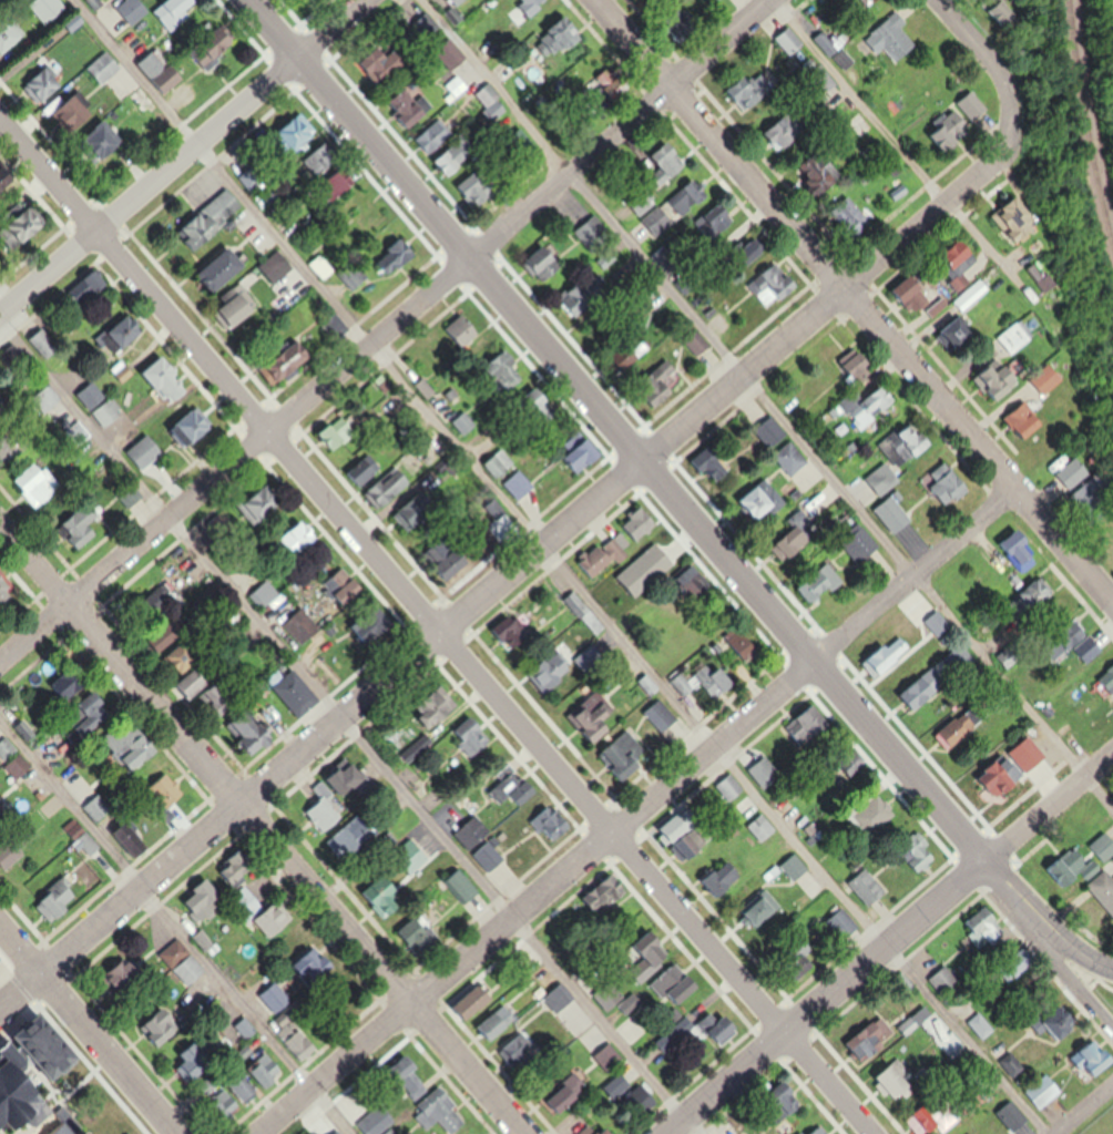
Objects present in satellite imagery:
building: (876, 0)
building: (456, 2)
building: (48, 8)
building: (134, 9)
building: (10, 34)
building: (895, 37)
road: (986, 40)
building: (828, 43)
road: (631, 44)
building: (160, 69)
building: (387, 69)
building: (45, 83)
building: (488, 95)
building: (412, 106)
building: (74, 114)
road: (358, 130)
building: (299, 131)
building: (787, 131)
railway: (1083, 131)
building: (950, 133)
road: (907, 149)
road: (184, 159)
building: (323, 159)
building: (672, 161)
building: (2, 173)
building: (815, 173)
building: (253, 177)
building: (339, 183)
building: (643, 200)
building: (680, 205)
building: (857, 217)
building: (212, 218)
building: (1022, 219)
building: (716, 221)
building: (593, 234)
building: (666, 256)
building: (544, 263)
building: (226, 267)
road: (135, 274)
building: (355, 274)
building: (1050, 275)
building: (966, 280)
building: (774, 286)
building: (920, 289)
building: (239, 305)
road: (386, 333)
building: (471, 334)
building: (964, 334)
building: (1022, 337)
building: (700, 343)
building: (43, 344)
road: (889, 345)
building: (507, 371)
building: (1058, 378)
building: (165, 381)
building: (999, 381)
building: (427, 388)
road: (767, 402)
building: (99, 403)
building: (864, 408)
building: (544, 409)
building: (466, 422)
building: (193, 426)
building: (773, 431)
building: (338, 432)
building: (922, 447)
building: (145, 450)
building: (6, 451)
building: (584, 456)
building: (795, 458)
building: (500, 462)
building: (715, 464)
building: (369, 469)
building: (888, 478)
building: (35, 483)
building: (519, 484)
building: (954, 486)
building: (387, 488)
building: (763, 500)
building: (262, 503)
building: (898, 514)
building: (413, 517)
building: (637, 517)
building: (81, 524)
building: (222, 528)
building: (297, 539)
building: (799, 541)
building: (864, 543)
building: (435, 550)
road: (527, 555)
building: (1028, 555)
building: (603, 558)
building: (655, 559)
road: (729, 560)
road: (35, 564)
road: (562, 566)
building: (823, 584)
building: (6, 588)
building: (1037, 599)
building: (300, 625)
building: (939, 625)
building: (512, 631)
building: (1093, 640)
building: (749, 651)
building: (890, 655)
building: (589, 660)
building: (1111, 673)
building: (545, 676)
building: (716, 682)
building: (70, 683)
building: (683, 684)
building: (299, 696)
building: (218, 699)
building: (436, 709)
building: (661, 715)
building: (593, 717)
road: (346, 726)
building: (252, 733)
building: (469, 737)
building: (7, 748)
building: (623, 757)
building: (756, 772)
building: (1008, 775)
building: (503, 783)
road: (573, 783)
building: (729, 787)
building: (169, 790)
building: (335, 795)
building: (98, 807)
road: (641, 810)
building: (877, 814)
building: (1, 817)
building: (681, 824)
building: (763, 826)
building: (133, 839)
building: (90, 842)
building: (345, 844)
building: (481, 844)
building: (1105, 846)
building: (917, 849)
building: (410, 855)
building: (796, 866)
building: (235, 868)
road: (297, 869)
building: (725, 877)
building: (462, 886)
building: (869, 886)
building: (1104, 887)
building: (386, 893)
building: (59, 899)
building: (202, 900)
building: (246, 903)
building: (760, 909)
road: (1045, 920)
building: (273, 922)
building: (986, 922)
road: (175, 928)
building: (419, 934)
building: (205, 940)
road: (890, 943)
building: (650, 957)
building: (800, 961)
building: (183, 962)
building: (314, 967)
road: (1065, 971)
building: (124, 977)
building: (946, 980)
building: (678, 985)
building: (610, 995)
building: (559, 997)
building: (278, 999)
building: (500, 1016)
building: (1068, 1023)
building: (983, 1025)
building: (162, 1026)
building: (719, 1026)
road: (88, 1029)
building: (875, 1039)
building: (299, 1042)
building: (610, 1056)
building: (1015, 1064)
building: (409, 1076)
building: (257, 1084)
building: (572, 1092)
building: (794, 1101)
road: (1081, 1106)
building: (32, 1110)
building: (440, 1112)
building: (939, 1117)
building: (385, 1126)
building: (327, 1128)
building: (68, 1131)
building: (819, 1132)
building: (599, 1133)

